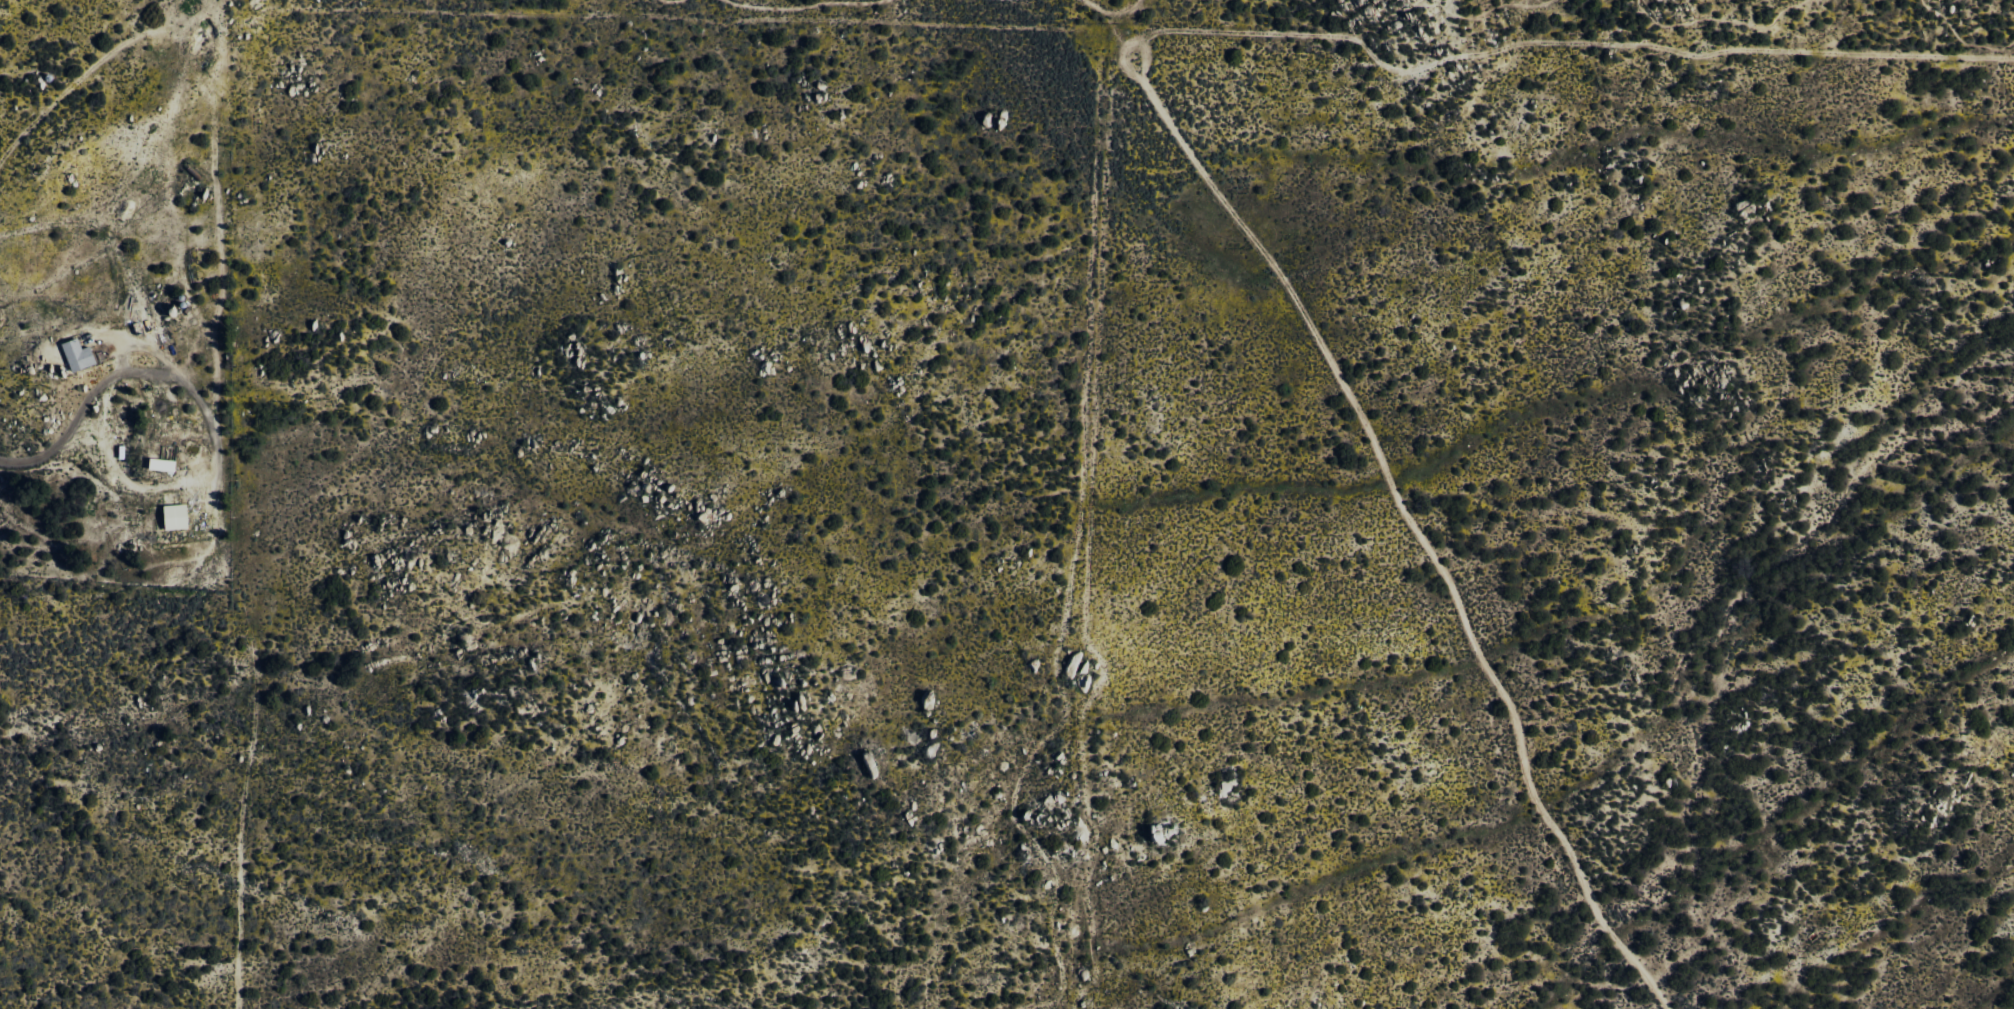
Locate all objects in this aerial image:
building: (75, 355)

